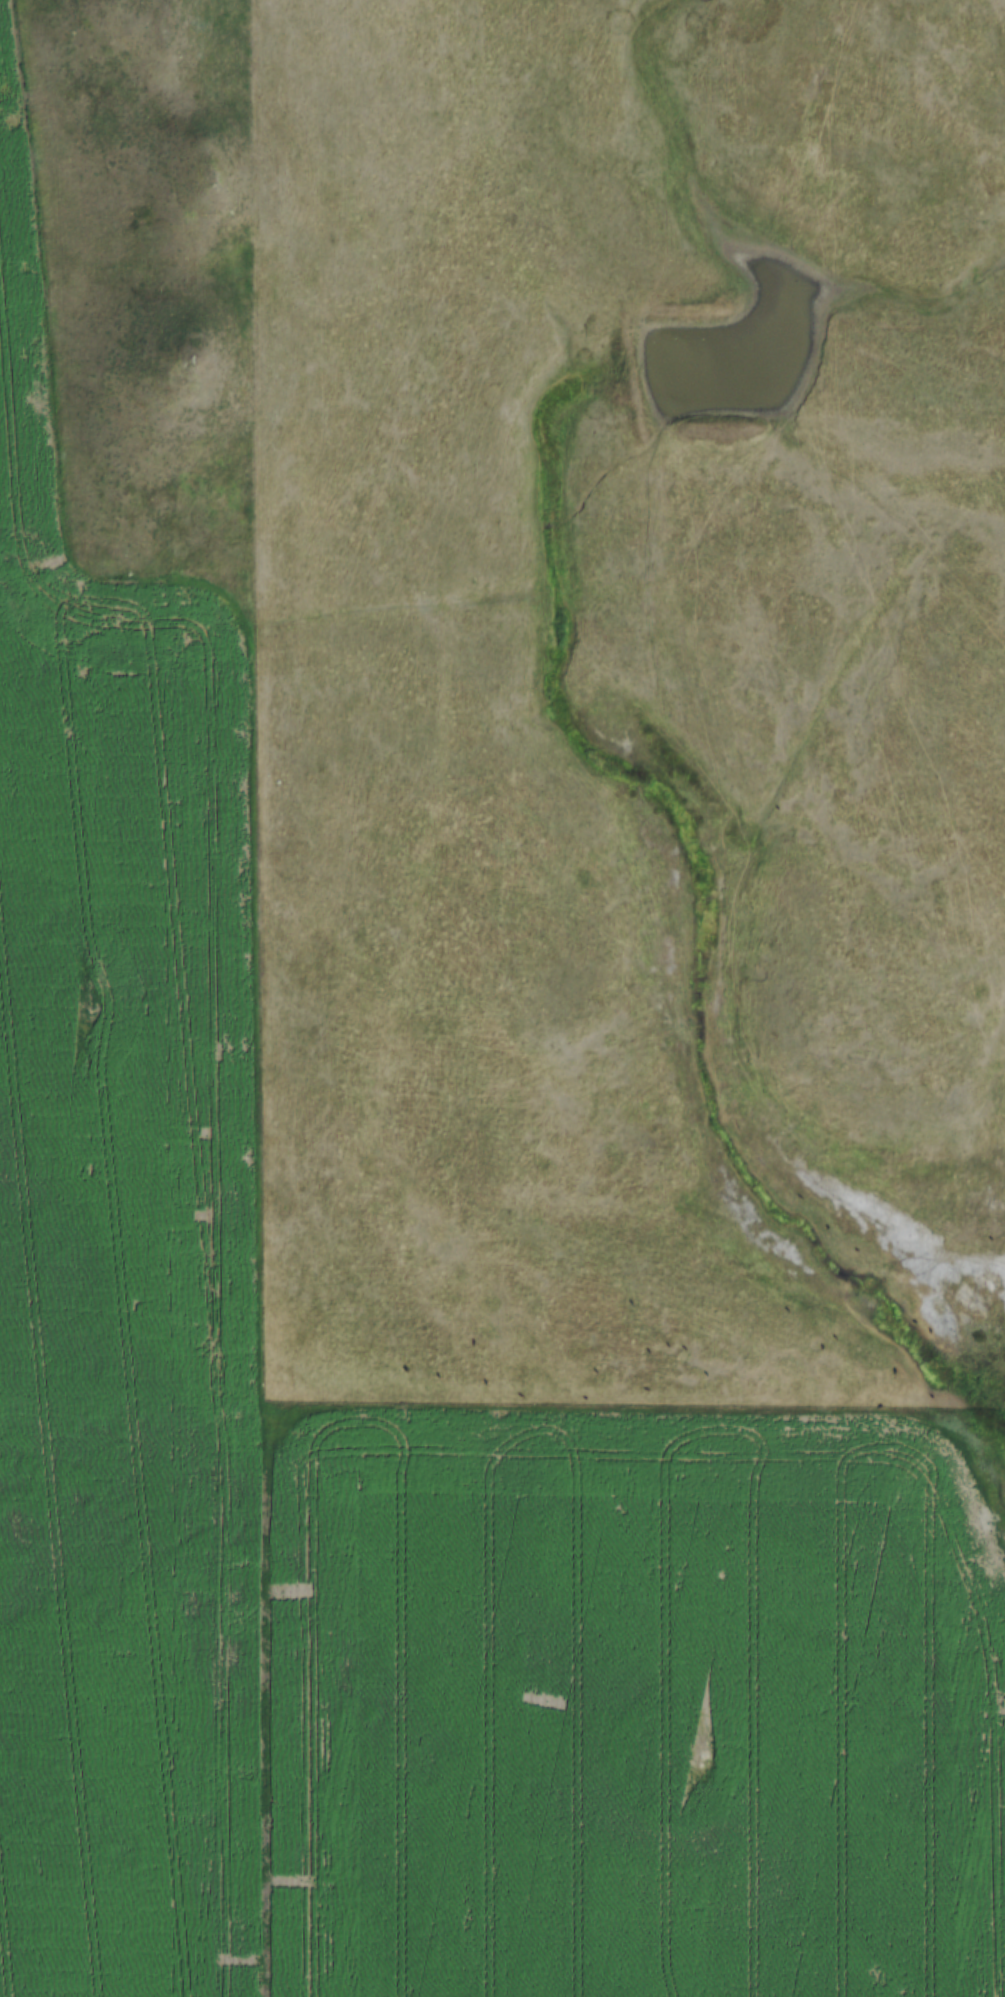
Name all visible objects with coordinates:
road: (829, 210)
road: (689, 630)

